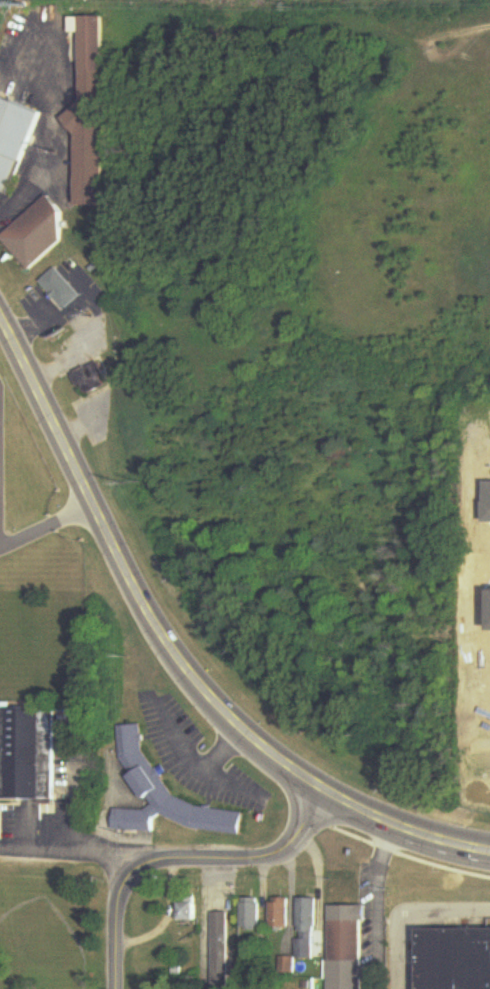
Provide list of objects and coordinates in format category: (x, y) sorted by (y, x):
building: (93, 114)
road: (42, 129)
building: (15, 140)
building: (40, 232)
building: (61, 289)
building: (91, 380)
building: (475, 438)
building: (475, 474)
road: (44, 524)
road: (174, 660)
building: (27, 754)
building: (162, 796)
road: (80, 846)
road: (257, 862)
road: (378, 908)
building: (188, 910)
road: (112, 911)
road: (405, 912)
building: (280, 914)
building: (251, 915)
building: (306, 929)
building: (345, 934)
building: (220, 951)
building: (456, 959)
building: (286, 965)

